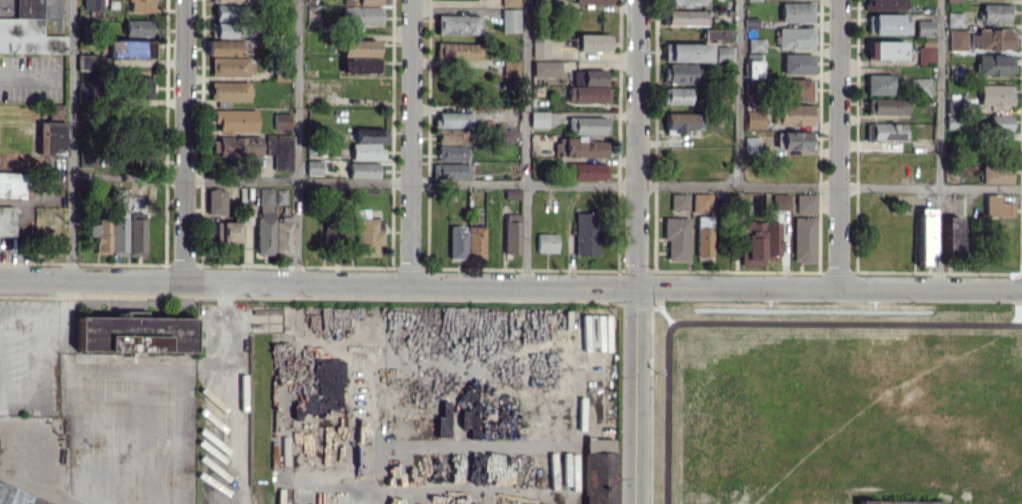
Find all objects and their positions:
building: (752, 0)
building: (230, 1)
building: (591, 1)
building: (953, 1)
building: (363, 2)
building: (509, 2)
building: (686, 2)
building: (92, 4)
building: (885, 4)
building: (142, 5)
building: (229, 11)
building: (796, 12)
building: (994, 13)
building: (362, 15)
building: (683, 17)
building: (954, 19)
building: (509, 20)
building: (886, 23)
building: (458, 24)
building: (138, 27)
building: (925, 27)
building: (222, 29)
building: (28, 31)
building: (795, 37)
building: (993, 38)
building: (958, 40)
building: (592, 42)
building: (719, 42)
building: (756, 44)
building: (539, 46)
building: (225, 47)
building: (359, 47)
building: (129, 48)
building: (886, 50)
building: (458, 51)
building: (686, 52)
building: (926, 52)
building: (84, 61)
building: (797, 63)
building: (995, 64)
building: (361, 65)
building: (754, 65)
building: (231, 66)
building: (510, 68)
building: (546, 69)
building: (280, 72)
building: (679, 73)
building: (588, 77)
building: (879, 84)
building: (920, 86)
building: (142, 87)
building: (798, 89)
building: (229, 91)
building: (85, 92)
road: (736, 92)
building: (588, 93)
building: (675, 95)
building: (996, 95)
building: (888, 106)
building: (56, 109)
building: (953, 113)
building: (791, 114)
building: (538, 119)
building: (754, 119)
building: (235, 120)
building: (281, 120)
building: (679, 122)
building: (587, 125)
building: (451, 127)
building: (887, 131)
building: (54, 134)
building: (509, 134)
road: (68, 139)
building: (794, 139)
road: (184, 141)
road: (296, 142)
building: (368, 143)
road: (413, 143)
road: (526, 144)
road: (939, 144)
road: (637, 145)
building: (751, 145)
road: (840, 145)
building: (235, 146)
building: (279, 150)
building: (451, 153)
building: (86, 157)
building: (313, 167)
building: (363, 169)
building: (452, 170)
building: (589, 171)
building: (995, 174)
road: (544, 183)
building: (12, 184)
building: (118, 195)
building: (280, 196)
building: (678, 201)
building: (779, 201)
building: (215, 202)
building: (701, 202)
building: (805, 202)
building: (997, 206)
building: (6, 220)
building: (271, 227)
building: (227, 231)
building: (331, 231)
building: (110, 232)
building: (136, 233)
building: (512, 234)
building: (586, 234)
building: (367, 235)
building: (925, 235)
building: (704, 236)
building: (951, 236)
building: (676, 238)
building: (803, 239)
building: (475, 241)
building: (457, 242)
building: (546, 242)
building: (758, 242)
road: (317, 284)
traffic signals: (636, 290)
road: (829, 290)
building: (133, 333)
road: (227, 393)
road: (84, 394)
road: (636, 397)
road: (0, 408)
building: (599, 471)
building: (15, 498)
building: (892, 502)

